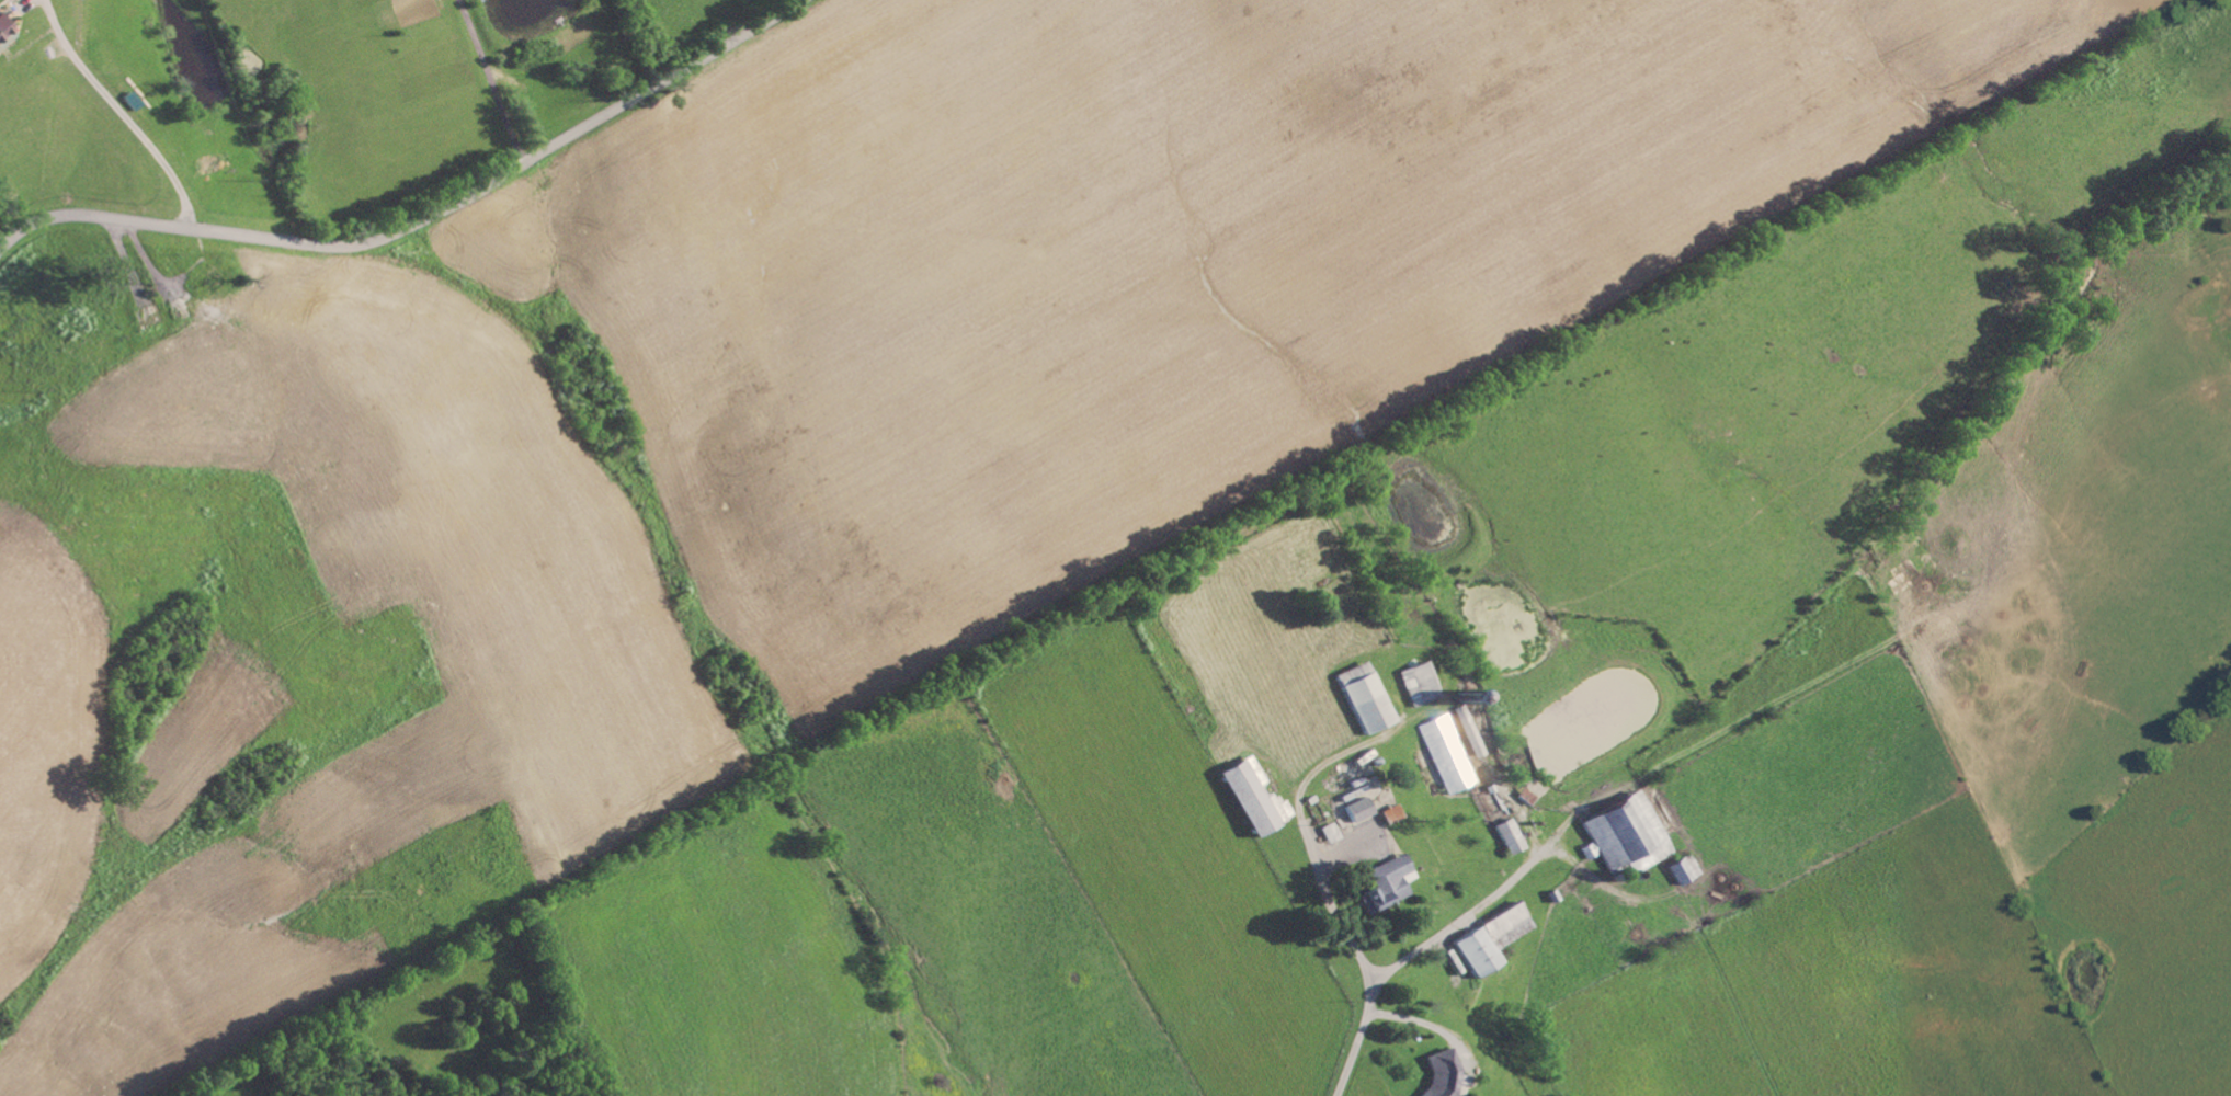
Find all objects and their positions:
building: (2, 30)
road: (485, 83)
road: (112, 116)
road: (423, 220)
building: (1416, 682)
building: (1363, 696)
building: (1446, 753)
building: (1252, 796)
building: (1357, 809)
building: (1389, 813)
building: (1329, 832)
building: (1626, 833)
building: (1507, 835)
building: (1682, 869)
building: (1386, 882)
road: (1476, 904)
building: (1503, 923)
building: (1477, 951)
building: (1441, 1075)

